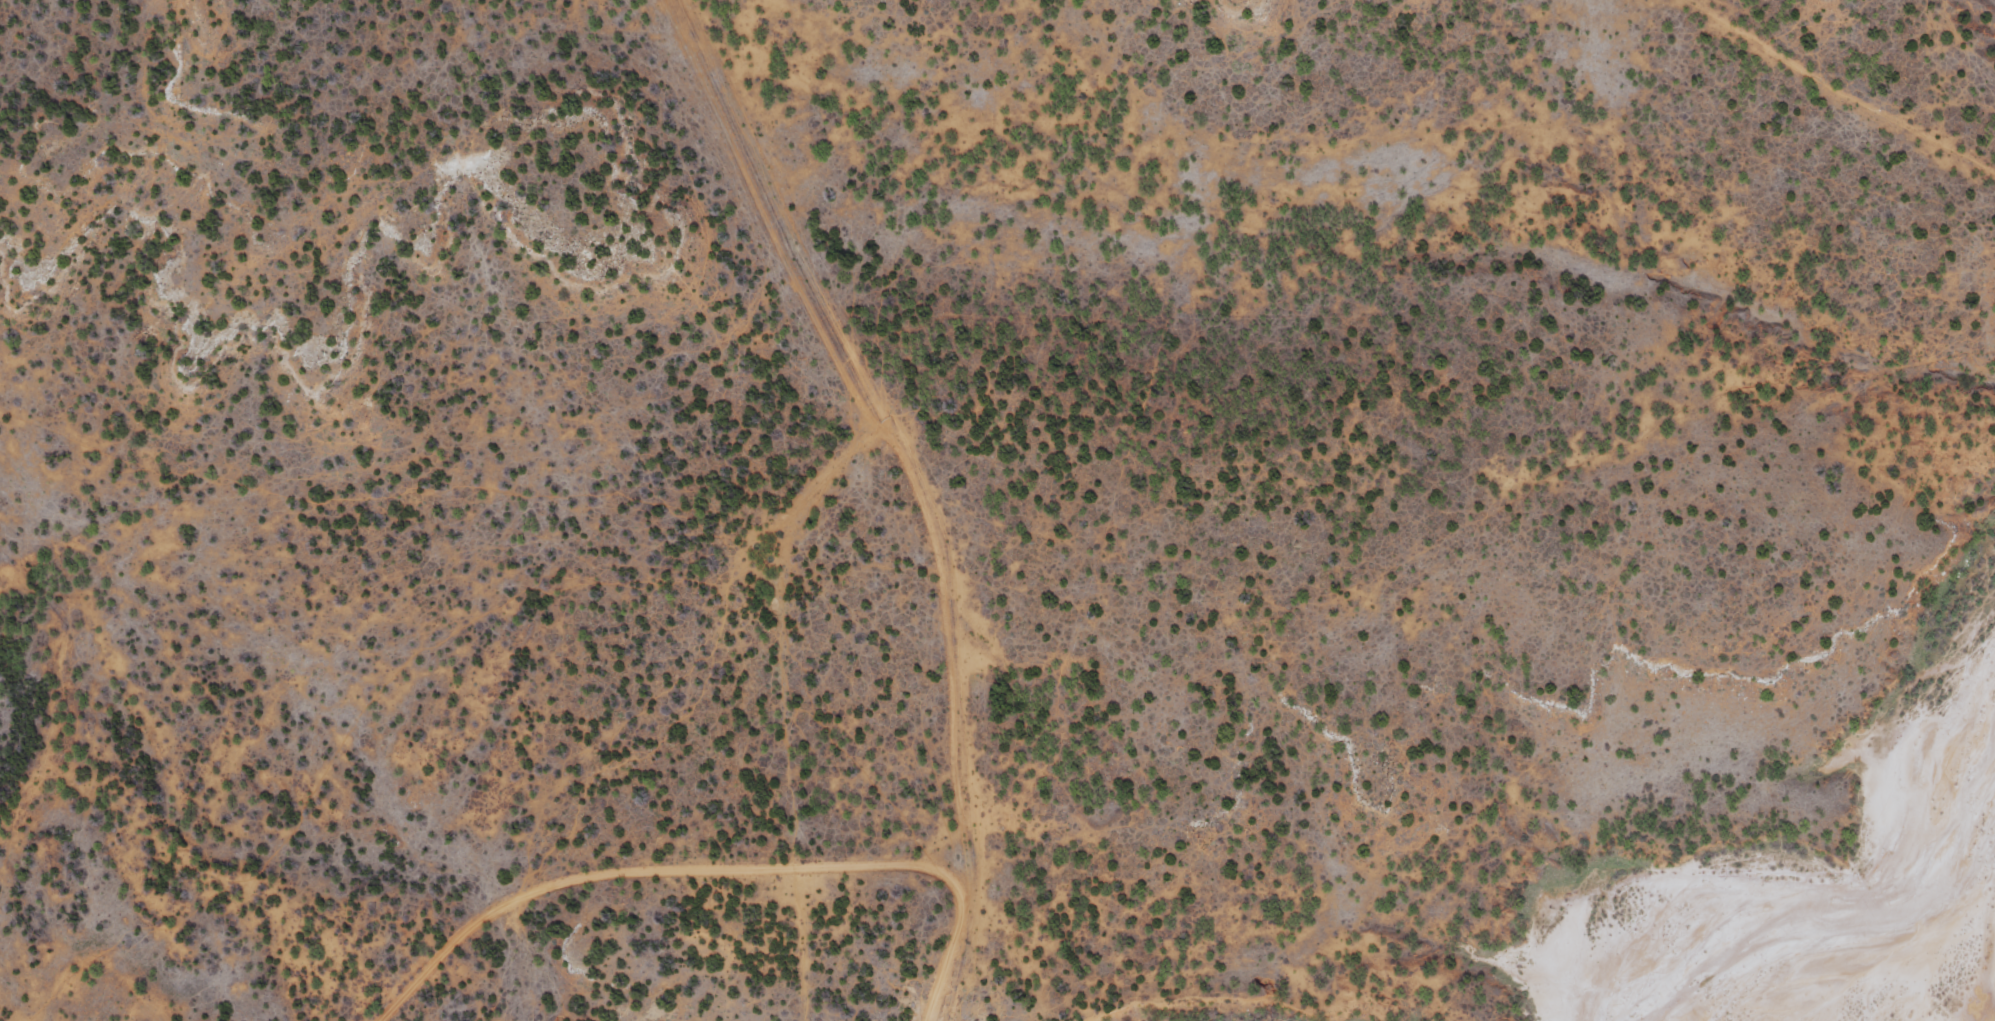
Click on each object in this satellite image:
road: (1848, 98)
road: (53, 493)
road: (905, 495)

